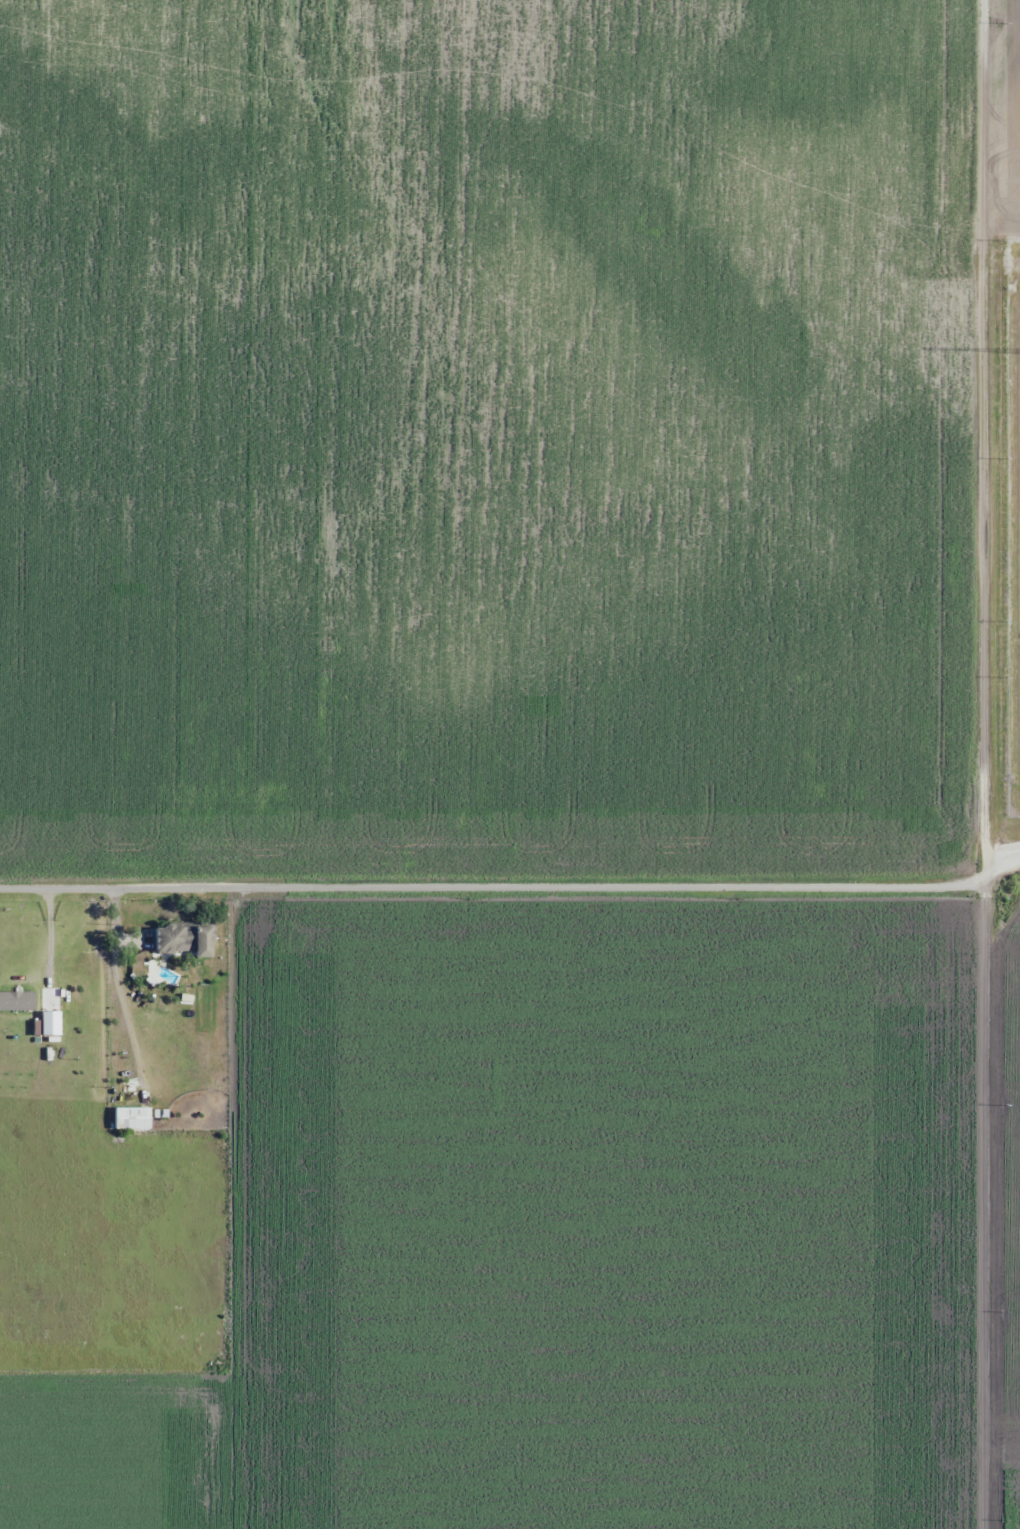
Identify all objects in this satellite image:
road: (997, 265)
road: (974, 764)
road: (487, 907)
building: (187, 937)
building: (132, 1117)

